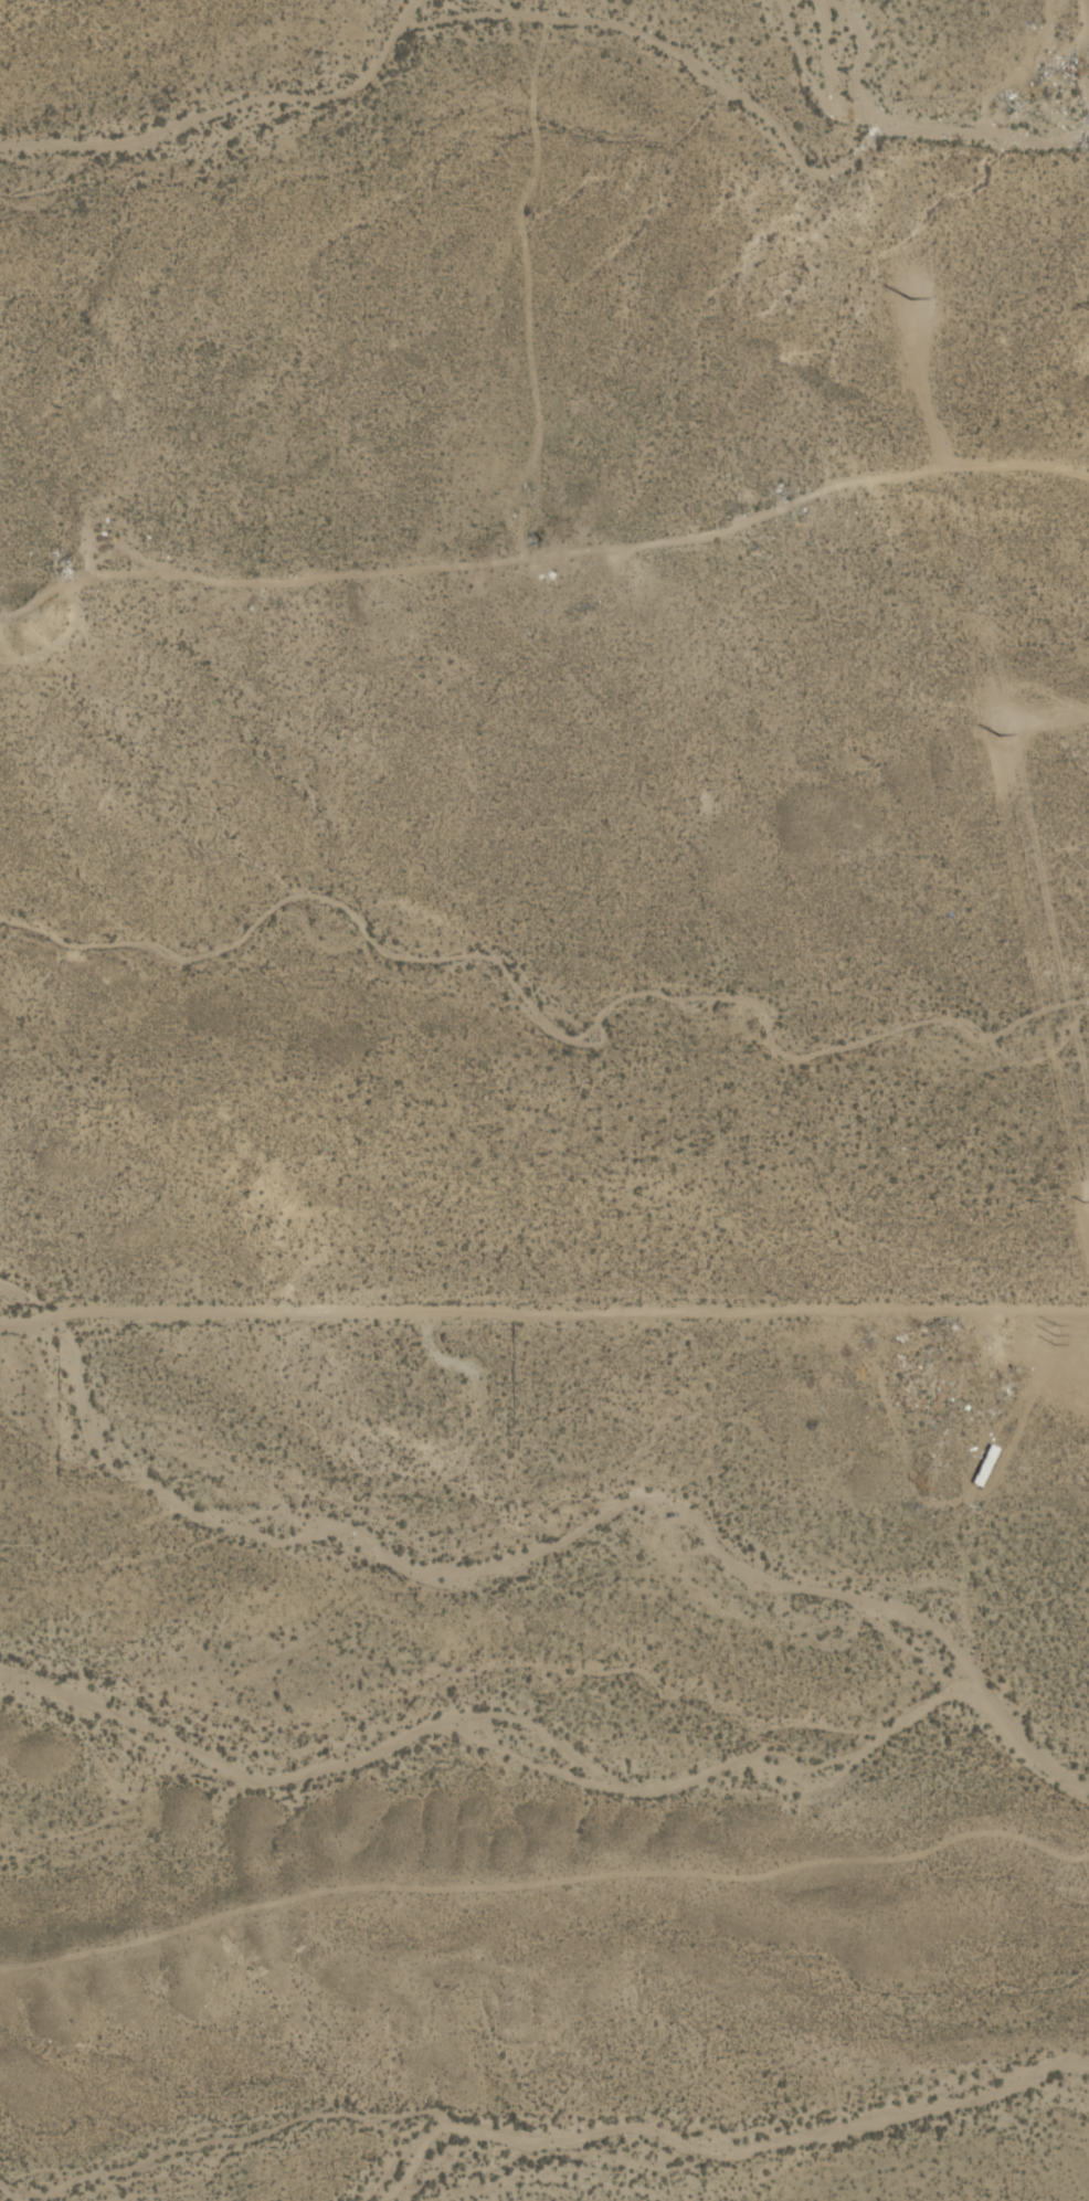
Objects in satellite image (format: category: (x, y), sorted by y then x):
power tower: (911, 297)
power tower: (1001, 734)
power tower: (1057, 1333)

